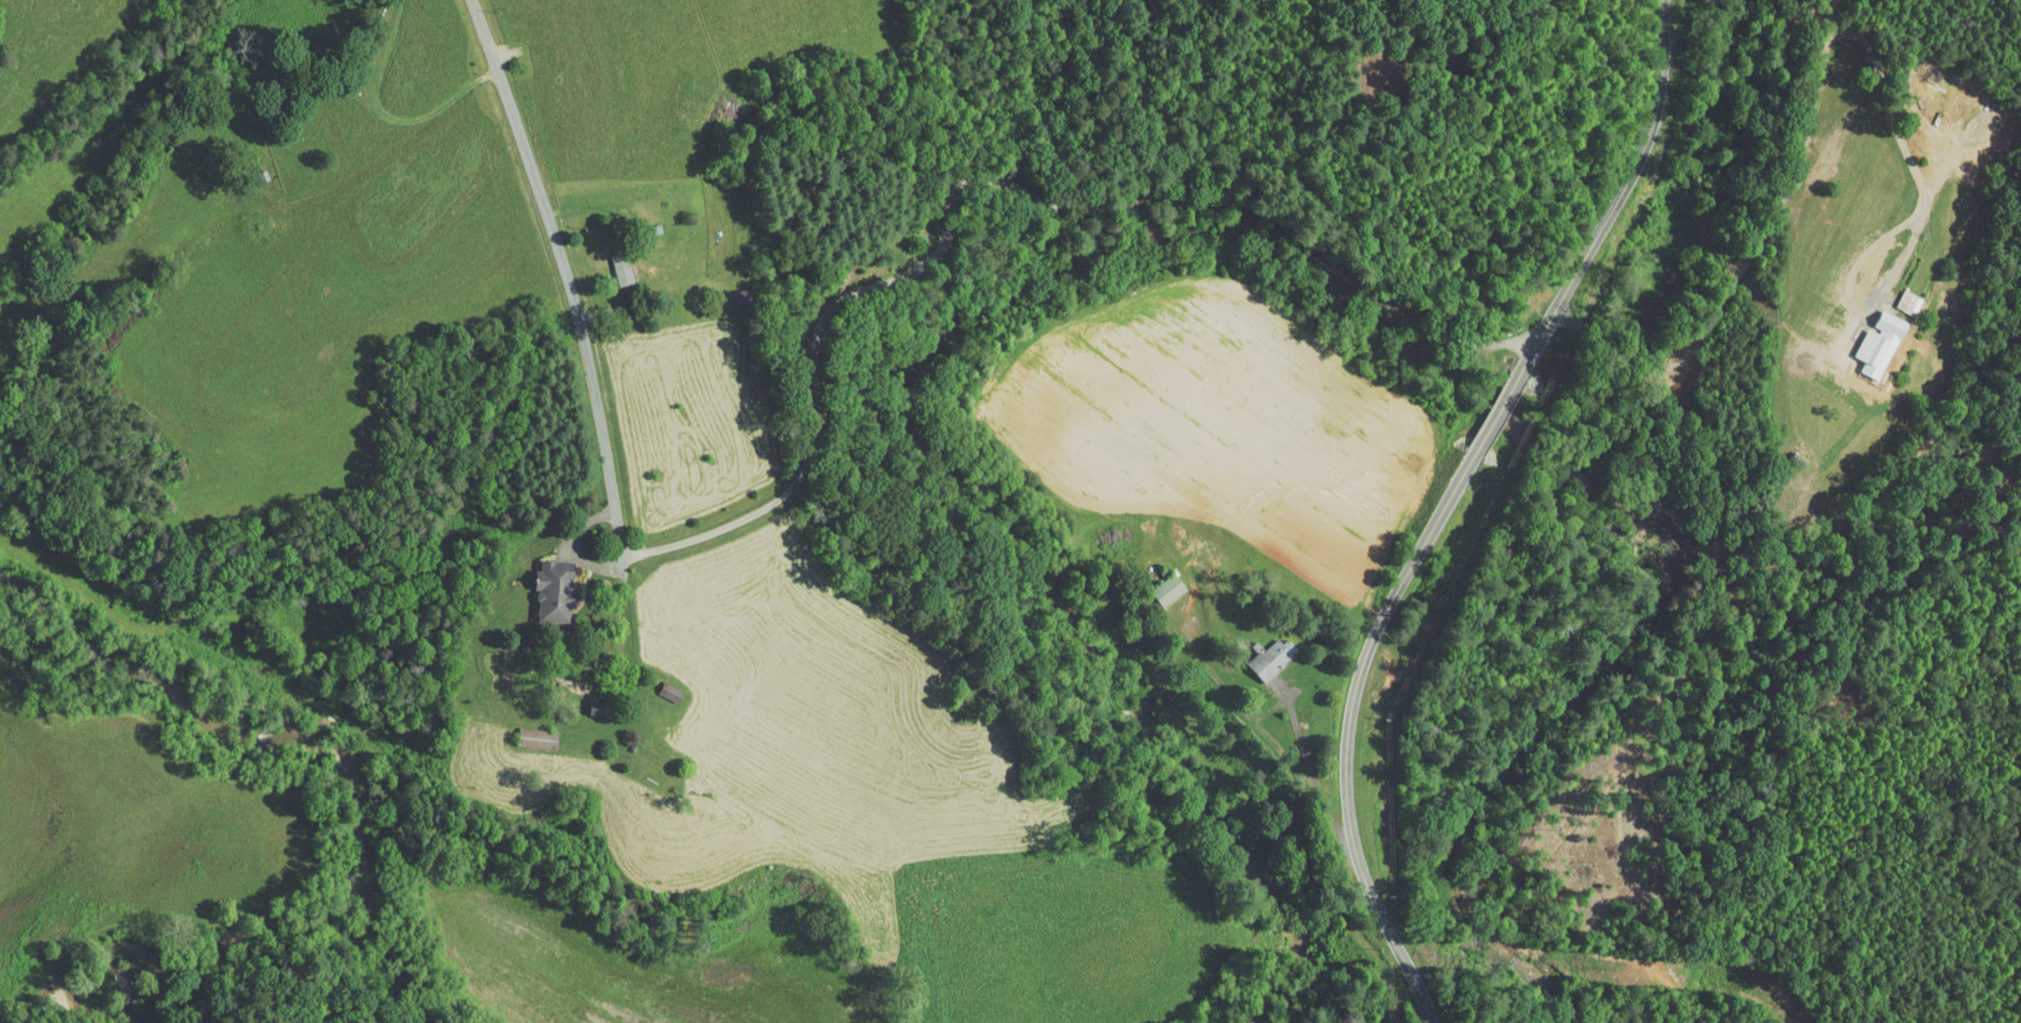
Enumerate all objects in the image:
road: (1811, 120)
river: (1321, 252)
building: (614, 261)
building: (1899, 295)
building: (1875, 340)
road: (595, 389)
road: (1445, 503)
building: (1161, 582)
building: (548, 583)
building: (1263, 651)
river: (1072, 653)
building: (661, 685)
river: (267, 693)
river: (1564, 727)
building: (528, 731)
river: (397, 989)

